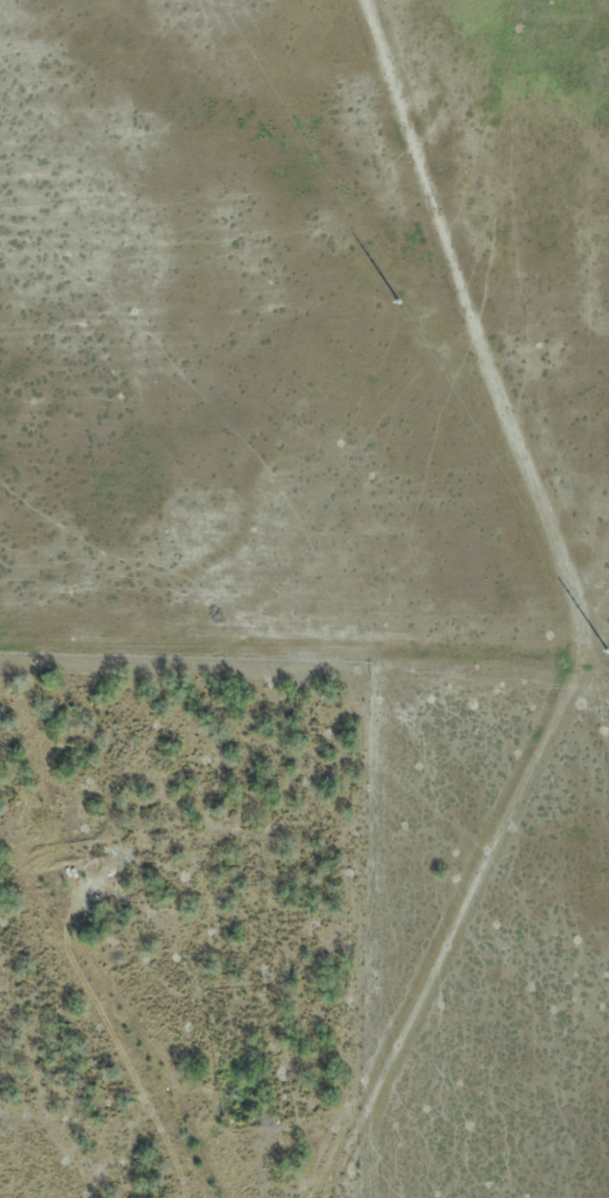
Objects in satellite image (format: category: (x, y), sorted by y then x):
power tower: (398, 299)
power tower: (608, 653)

